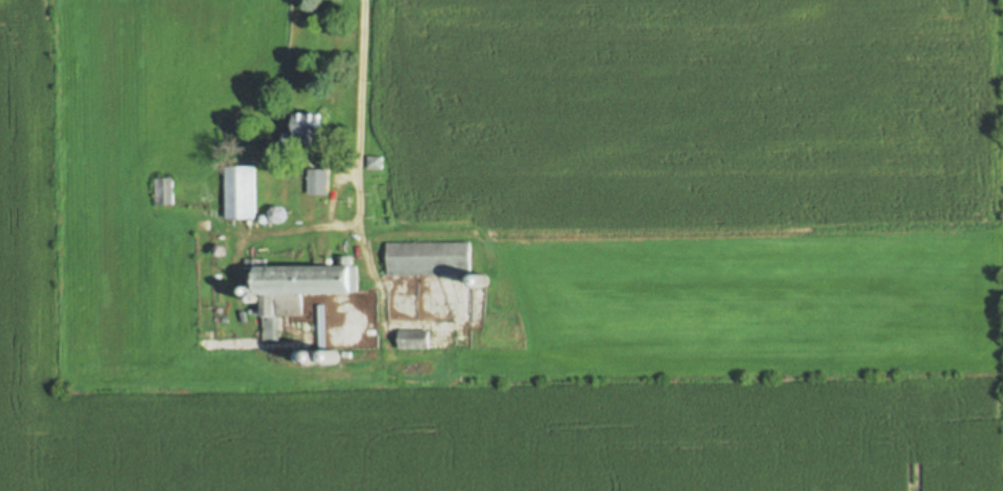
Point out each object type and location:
road: (359, 86)
building: (306, 129)
building: (375, 162)
building: (318, 182)
building: (165, 190)
building: (240, 192)
building: (275, 214)
building: (261, 220)
road: (337, 227)
building: (218, 251)
building: (429, 259)
building: (480, 280)
building: (297, 287)
building: (246, 291)
building: (255, 300)
building: (324, 326)
building: (413, 338)
building: (299, 356)
building: (314, 357)
building: (333, 357)
road: (280, 371)

